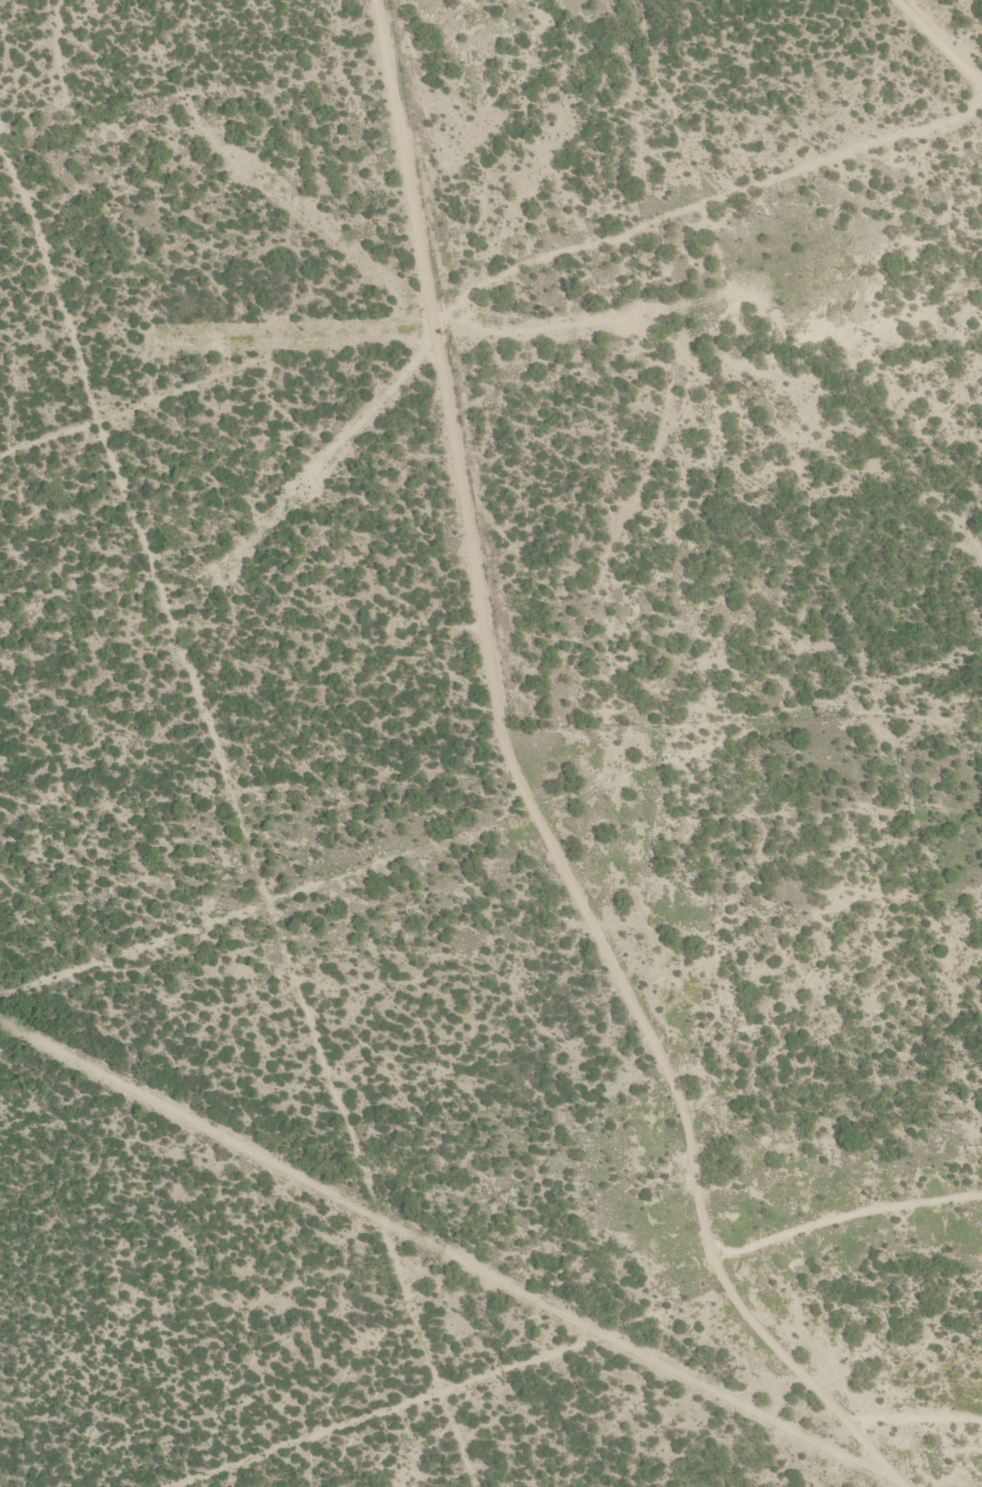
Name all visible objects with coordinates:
road: (946, 37)
road: (648, 160)
road: (601, 763)
road: (454, 1248)
road: (907, 1483)

